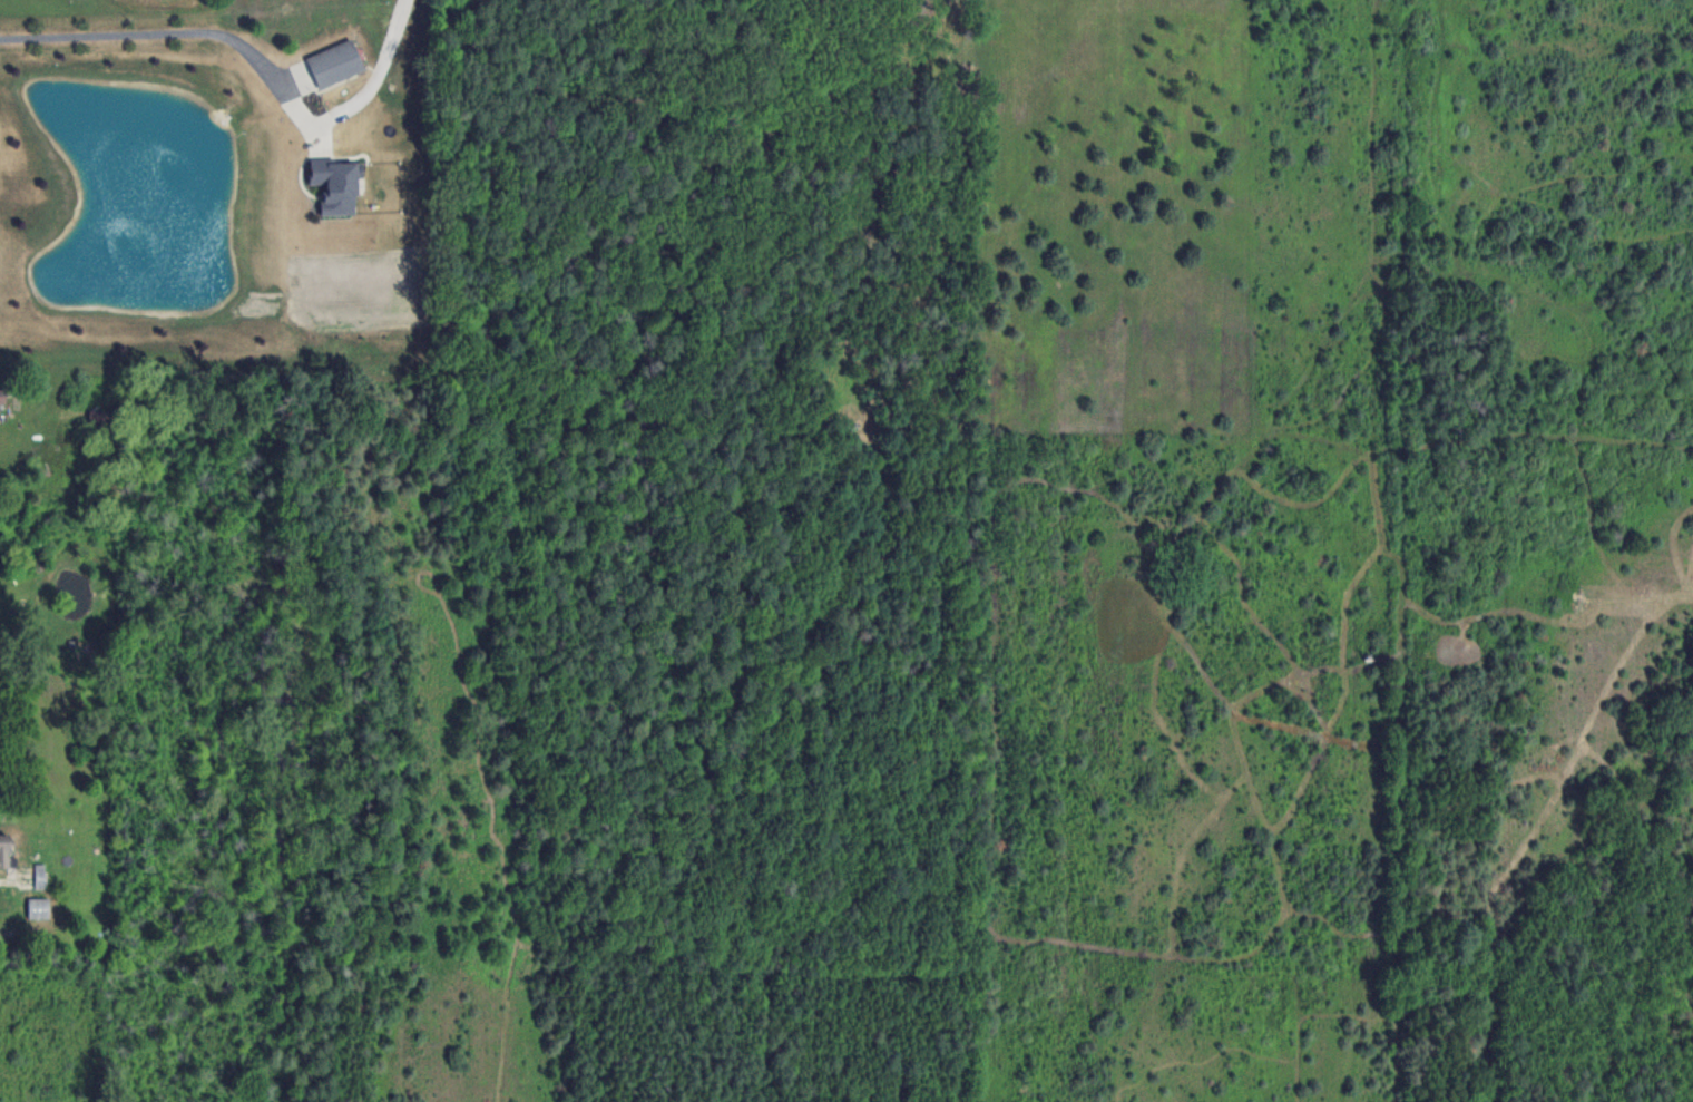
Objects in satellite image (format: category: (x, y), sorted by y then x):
road: (174, 31)
building: (333, 64)
building: (4, 850)
building: (39, 875)
building: (38, 908)

